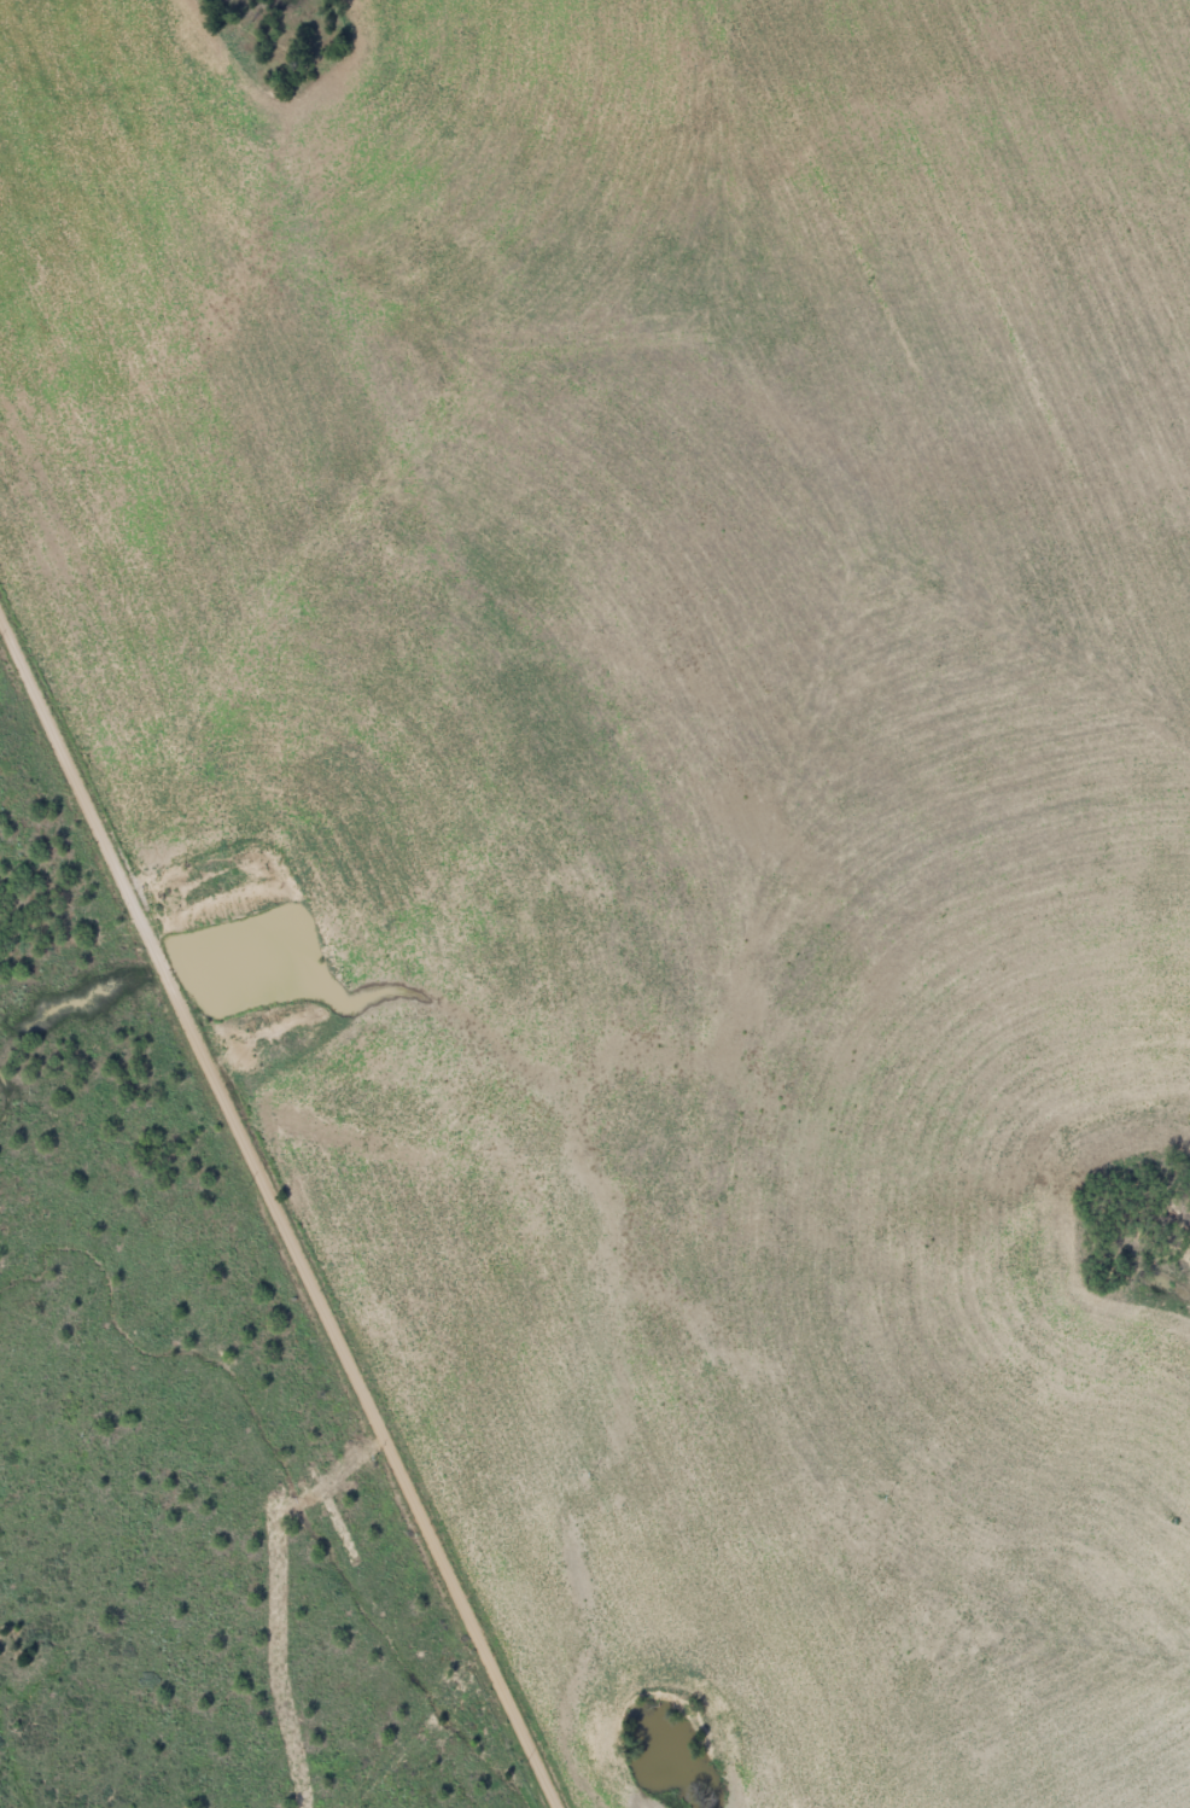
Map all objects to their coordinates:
road: (229, 1098)
road: (512, 1698)

